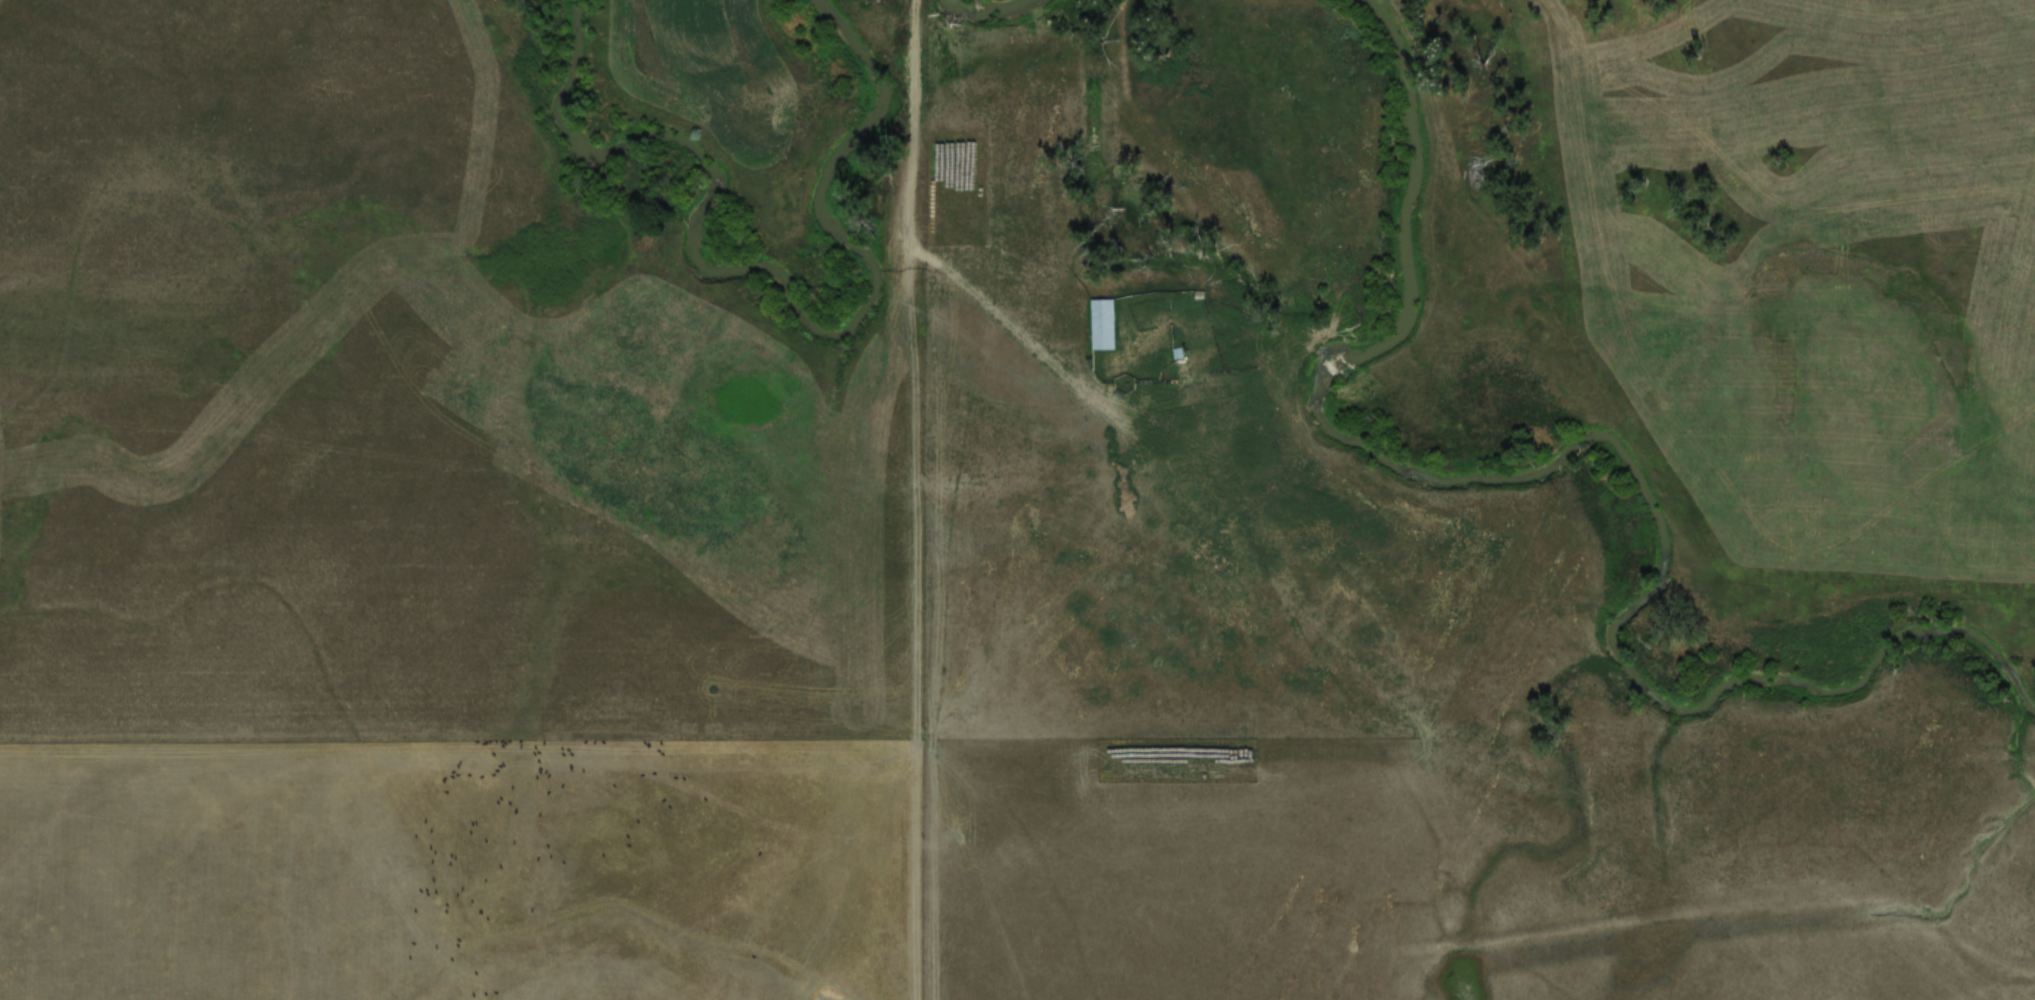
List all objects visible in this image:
crop: (707, 63)
road: (906, 118)
building: (1095, 317)

